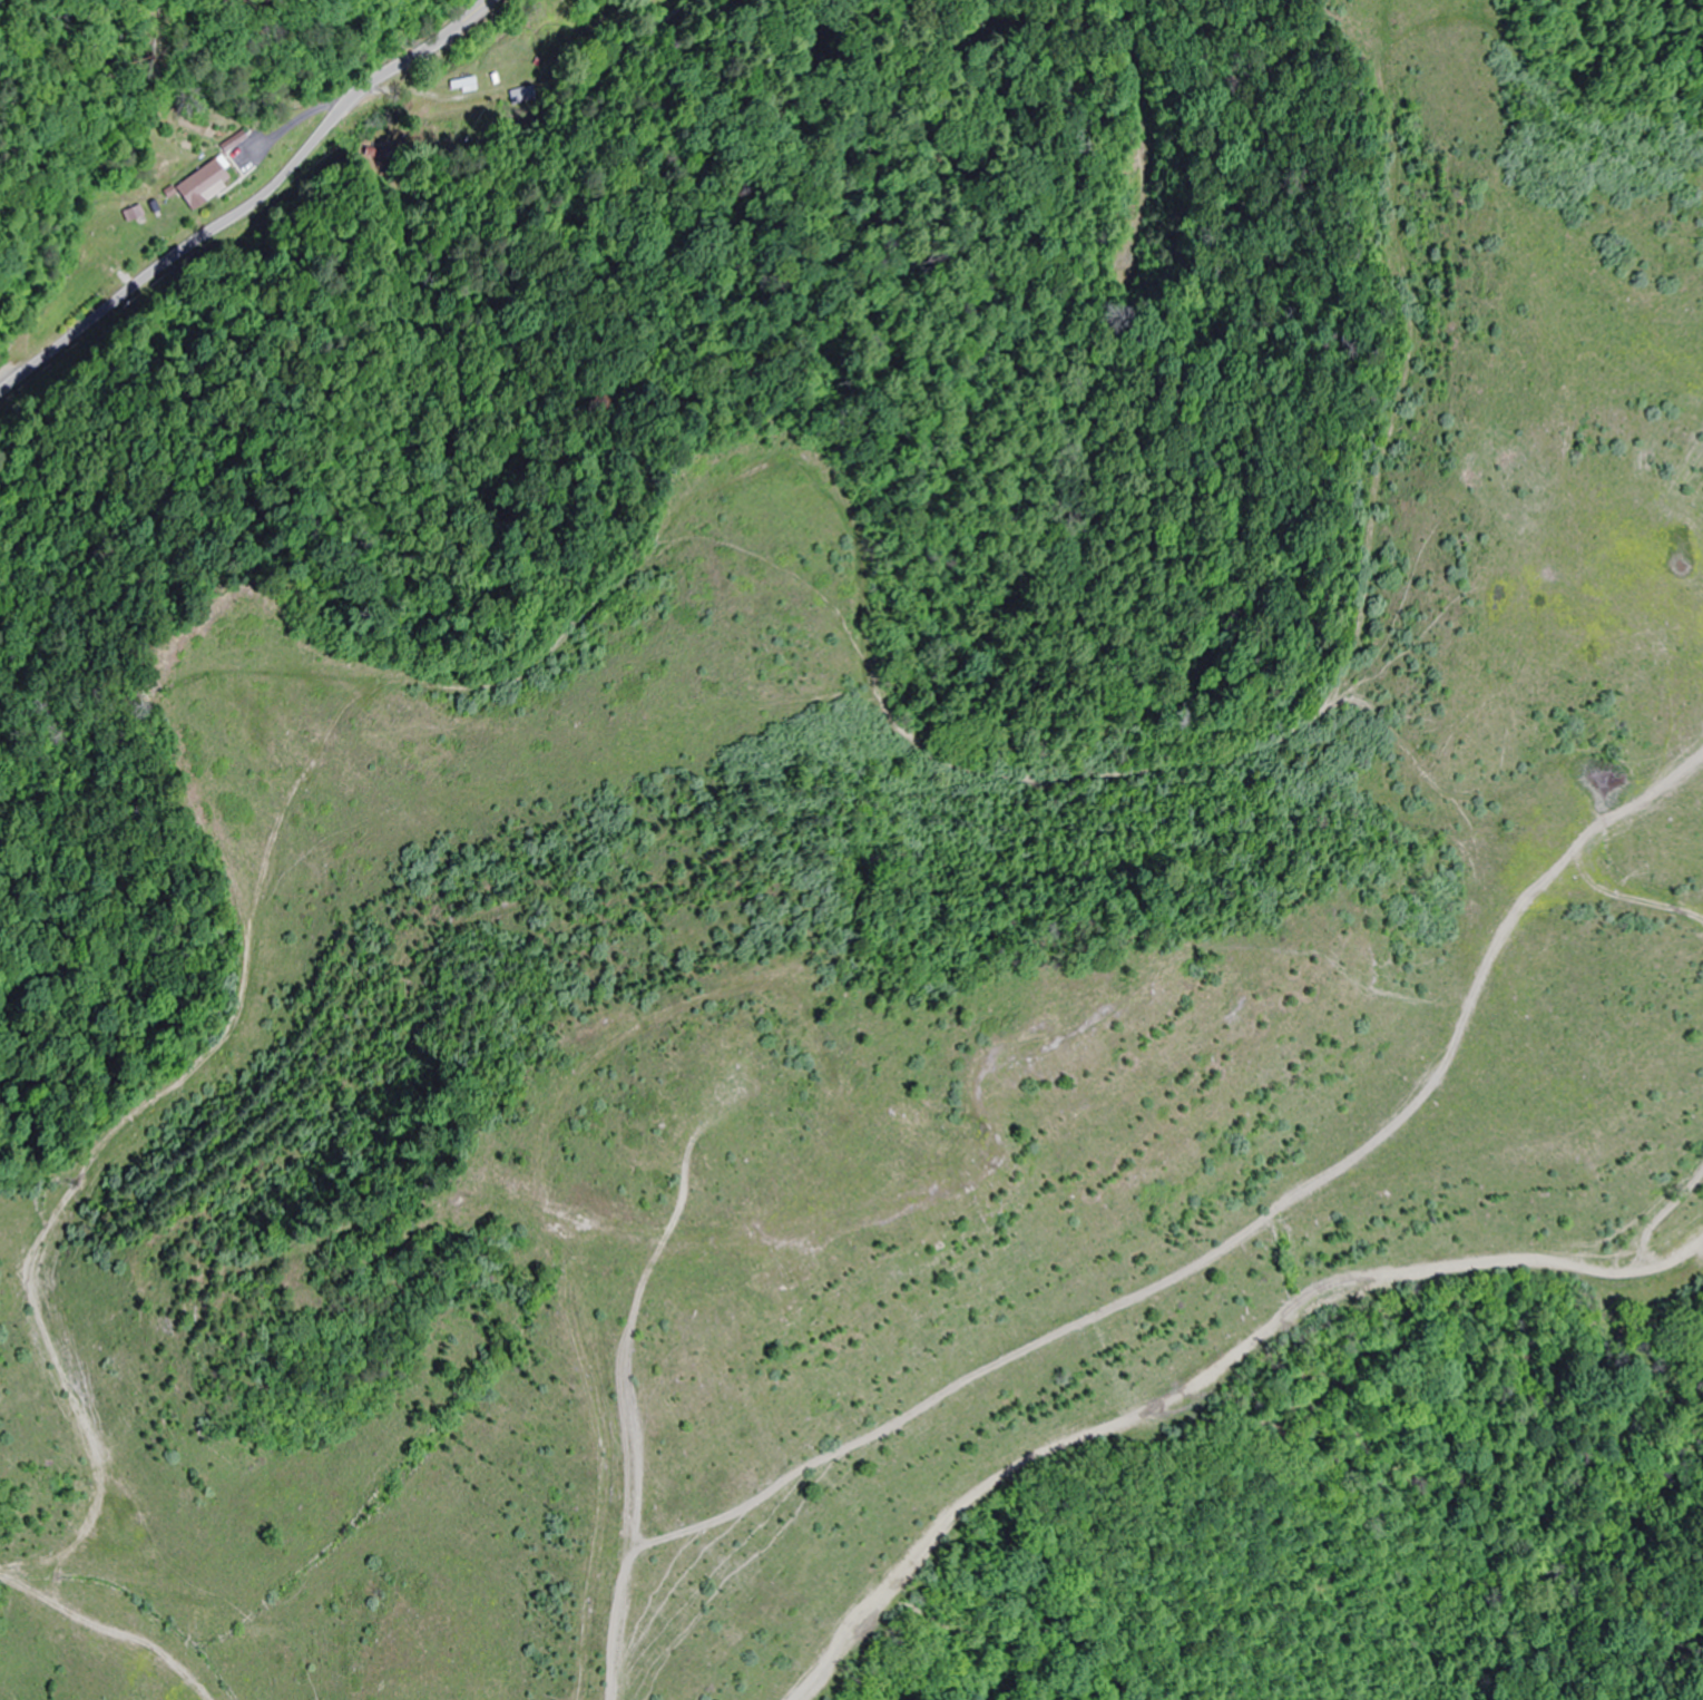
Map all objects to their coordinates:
building: (467, 84)
building: (199, 184)
road: (249, 204)
building: (100, 241)

